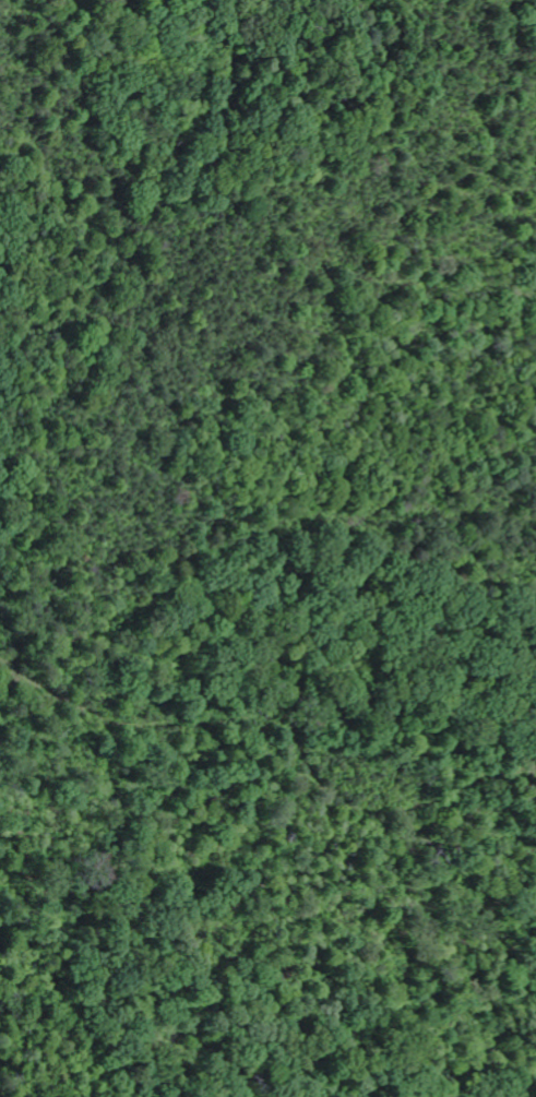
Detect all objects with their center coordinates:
road: (278, 730)

